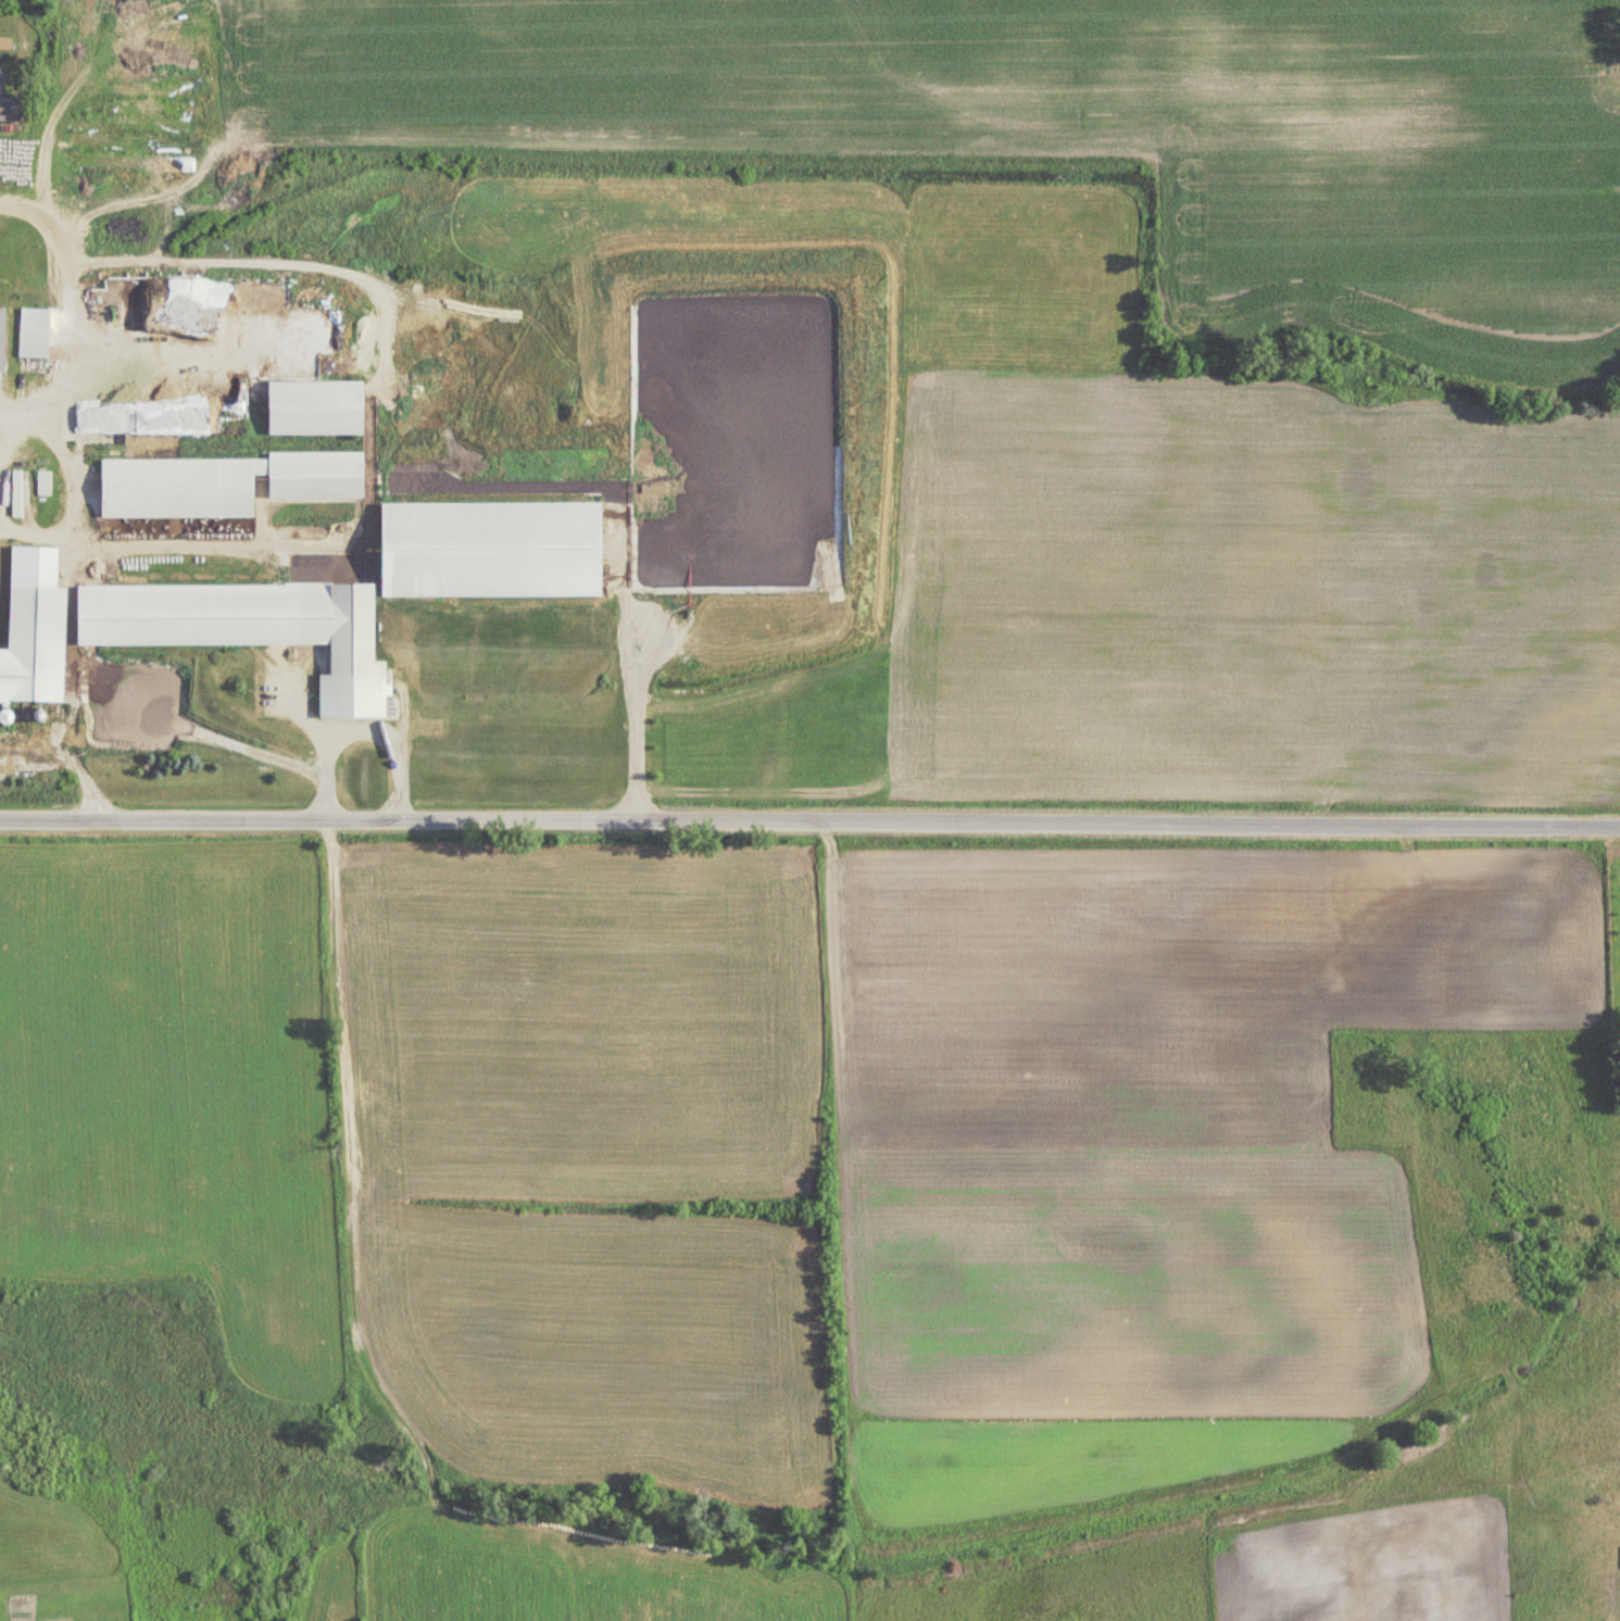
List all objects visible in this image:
building: (2, 83)
road: (65, 305)
building: (35, 345)
building: (42, 483)
building: (219, 485)
building: (17, 493)
building: (493, 550)
building: (263, 629)
building: (33, 637)
road: (632, 684)
road: (363, 727)
road: (809, 825)

